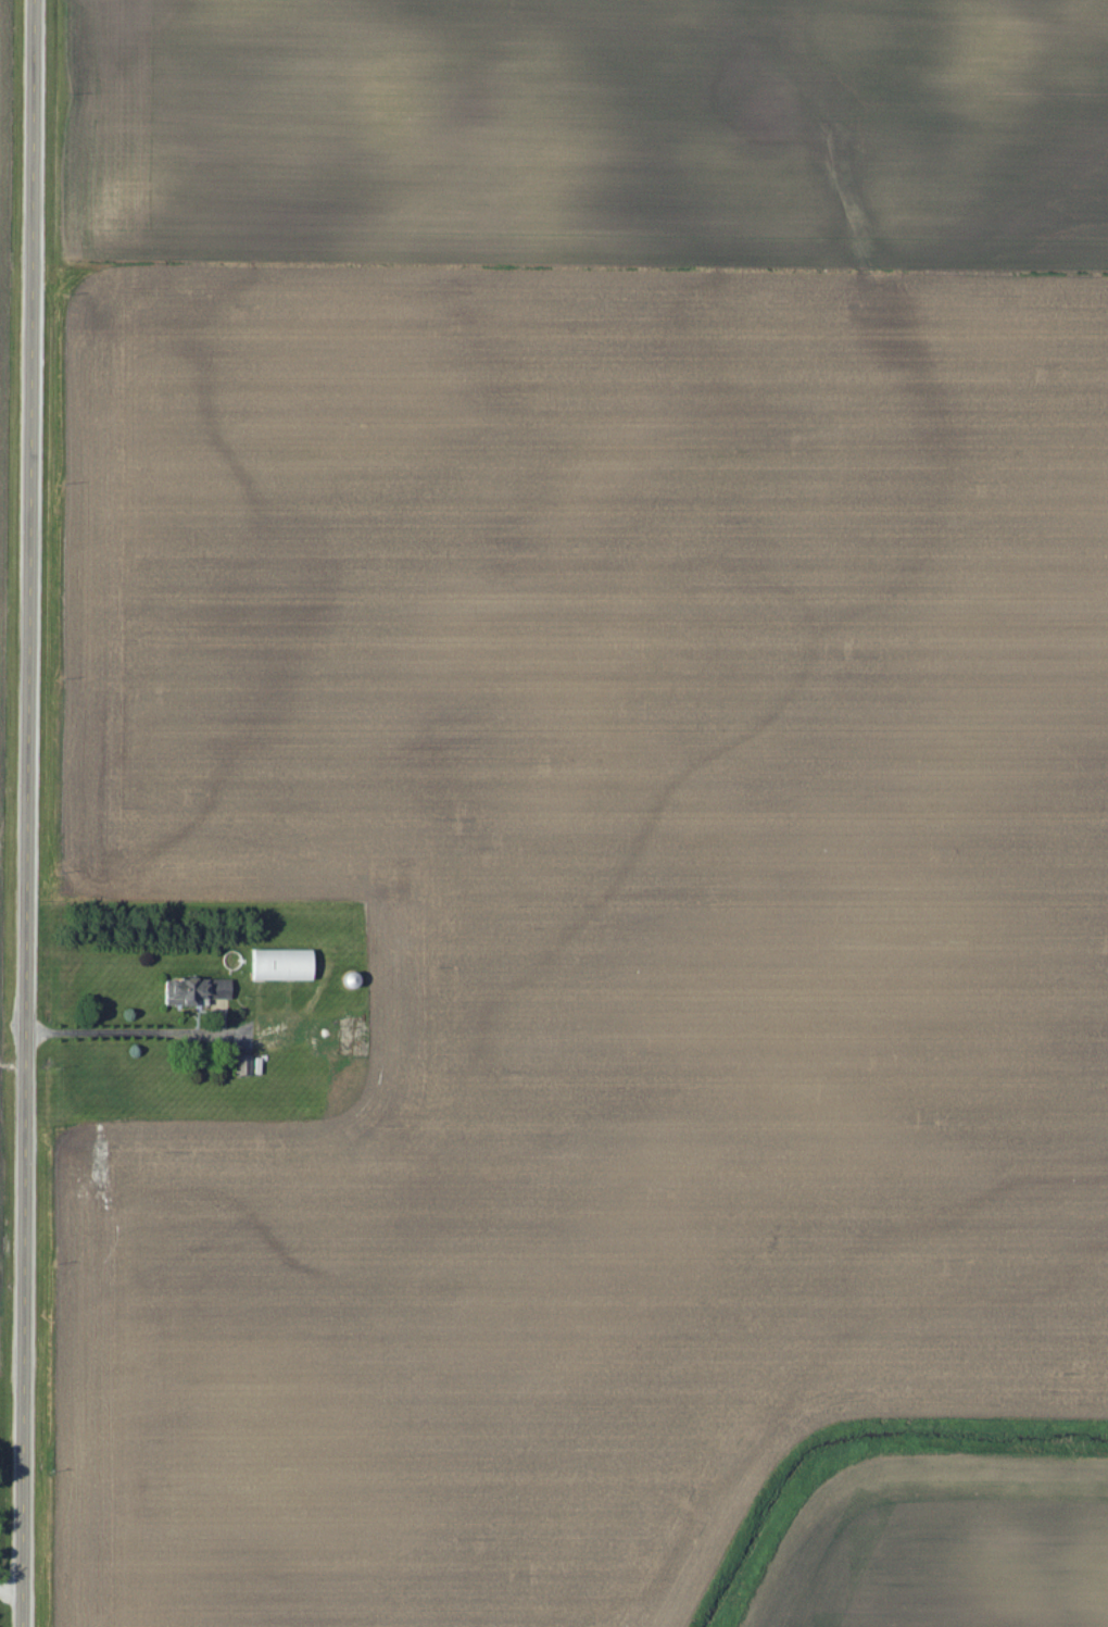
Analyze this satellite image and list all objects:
road: (28, 813)
road: (128, 1034)
road: (11, 1575)

